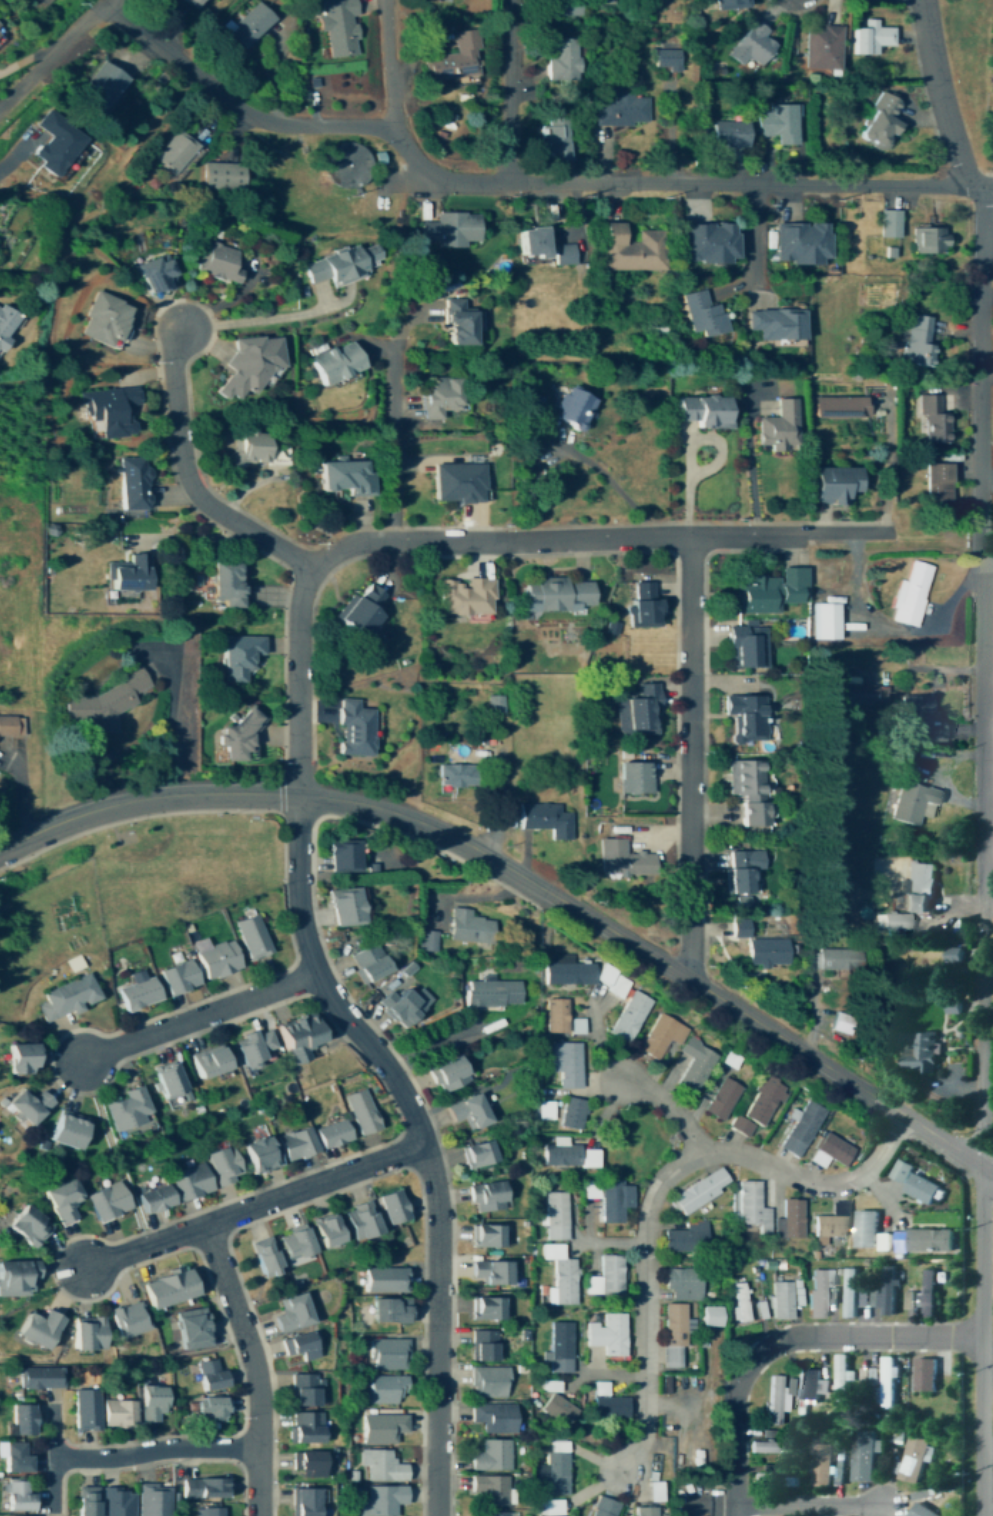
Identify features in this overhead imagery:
building: (449, 0)
building: (440, 1)
building: (189, 2)
building: (595, 2)
building: (731, 3)
building: (566, 8)
building: (247, 26)
building: (1, 28)
building: (338, 28)
building: (872, 40)
building: (751, 46)
building: (823, 49)
road: (57, 54)
building: (665, 58)
building: (456, 60)
building: (563, 60)
road: (391, 66)
building: (100, 86)
road: (509, 92)
building: (622, 109)
building: (880, 123)
building: (779, 124)
building: (730, 134)
building: (555, 140)
building: (54, 144)
building: (174, 153)
building: (352, 162)
building: (222, 177)
road: (510, 183)
road: (983, 187)
building: (890, 223)
building: (449, 230)
building: (930, 241)
building: (530, 242)
road: (753, 242)
building: (706, 244)
building: (799, 244)
building: (630, 250)
building: (563, 254)
building: (216, 262)
building: (341, 265)
building: (153, 275)
building: (701, 315)
road: (259, 318)
building: (103, 320)
building: (5, 324)
building: (456, 324)
building: (774, 325)
building: (916, 341)
building: (247, 363)
building: (334, 363)
building: (439, 398)
building: (832, 407)
building: (573, 409)
building: (107, 413)
building: (702, 413)
building: (933, 420)
building: (777, 429)
road: (396, 442)
road: (688, 451)
building: (246, 452)
building: (277, 454)
road: (890, 464)
road: (752, 471)
building: (344, 479)
road: (188, 480)
road: (611, 483)
building: (936, 484)
building: (131, 485)
building: (456, 485)
building: (832, 487)
road: (194, 536)
road: (590, 539)
road: (928, 547)
road: (987, 555)
building: (130, 576)
building: (223, 585)
building: (762, 595)
building: (910, 595)
building: (555, 596)
building: (464, 599)
building: (641, 605)
building: (359, 613)
building: (826, 623)
road: (892, 626)
building: (743, 648)
building: (237, 657)
road: (298, 681)
building: (863, 695)
building: (497, 701)
building: (106, 702)
building: (642, 712)
building: (744, 718)
building: (921, 719)
building: (7, 726)
road: (173, 726)
building: (352, 730)
building: (237, 739)
road: (982, 753)
road: (691, 758)
building: (463, 776)
building: (635, 779)
building: (747, 790)
building: (913, 802)
building: (544, 820)
building: (342, 855)
building: (623, 859)
park: (176, 869)
building: (738, 872)
road: (525, 878)
building: (912, 897)
building: (346, 906)
building: (742, 925)
building: (468, 927)
building: (250, 937)
building: (427, 941)
building: (766, 952)
building: (955, 953)
building: (215, 959)
building: (838, 959)
building: (368, 961)
building: (568, 971)
building: (176, 977)
building: (612, 980)
building: (136, 993)
building: (491, 993)
building: (66, 996)
building: (404, 1004)
building: (630, 1015)
road: (199, 1016)
building: (555, 1016)
building: (841, 1022)
building: (576, 1026)
building: (660, 1035)
building: (296, 1036)
building: (252, 1048)
building: (921, 1052)
building: (18, 1057)
building: (731, 1058)
building: (208, 1062)
building: (567, 1063)
building: (694, 1063)
building: (448, 1073)
building: (167, 1080)
road: (631, 1085)
building: (721, 1098)
building: (759, 1104)
building: (27, 1105)
building: (126, 1108)
building: (545, 1110)
building: (360, 1111)
building: (466, 1111)
building: (571, 1113)
building: (801, 1128)
building: (66, 1129)
building: (331, 1134)
road: (421, 1139)
building: (294, 1144)
building: (831, 1150)
building: (258, 1154)
building: (477, 1154)
building: (567, 1155)
building: (221, 1165)
building: (187, 1181)
building: (914, 1183)
road: (662, 1185)
building: (591, 1190)
building: (699, 1191)
building: (487, 1196)
building: (152, 1198)
building: (61, 1200)
building: (614, 1200)
building: (105, 1201)
building: (751, 1206)
building: (391, 1207)
road: (253, 1208)
building: (556, 1216)
building: (788, 1219)
building: (360, 1220)
building: (831, 1221)
building: (26, 1225)
building: (866, 1229)
building: (326, 1231)
building: (486, 1236)
building: (685, 1238)
building: (924, 1241)
building: (293, 1244)
building: (263, 1256)
building: (489, 1272)
building: (559, 1274)
building: (604, 1277)
building: (17, 1278)
building: (384, 1280)
building: (682, 1283)
building: (167, 1288)
building: (850, 1293)
building: (885, 1293)
building: (817, 1295)
building: (926, 1295)
building: (781, 1300)
building: (740, 1302)
building: (486, 1308)
building: (388, 1310)
building: (291, 1312)
building: (128, 1319)
building: (710, 1323)
building: (36, 1327)
building: (191, 1328)
building: (86, 1334)
building: (607, 1335)
building: (673, 1336)
road: (785, 1341)
building: (301, 1345)
building: (482, 1346)
building: (559, 1347)
building: (388, 1354)
road: (987, 1357)
road: (255, 1366)
building: (209, 1373)
building: (925, 1375)
building: (39, 1377)
building: (842, 1380)
building: (488, 1382)
building: (887, 1382)
building: (808, 1385)
building: (302, 1389)
building: (386, 1389)
building: (775, 1398)
road: (986, 1401)
building: (151, 1403)
building: (609, 1406)
building: (210, 1408)
building: (84, 1409)
building: (557, 1409)
building: (116, 1412)
building: (492, 1416)
building: (19, 1420)
building: (304, 1427)
building: (382, 1427)
building: (774, 1447)
road: (156, 1449)
building: (490, 1455)
building: (861, 1455)
building: (16, 1457)
building: (913, 1457)
building: (308, 1463)
building: (382, 1465)
building: (820, 1466)
building: (557, 1467)
building: (769, 1473)
building: (787, 1481)
building: (203, 1487)
road: (987, 1487)
building: (489, 1488)
building: (658, 1489)
building: (17, 1495)
building: (304, 1499)
building: (381, 1499)
building: (153, 1500)
building: (85, 1501)
building: (116, 1502)
road: (808, 1505)
building: (552, 1507)
building: (603, 1507)
building: (715, 1508)
building: (644, 1510)
building: (922, 1511)
building: (210, 1512)
building: (495, 1513)
building: (27, 1515)
building: (563, 1515)

